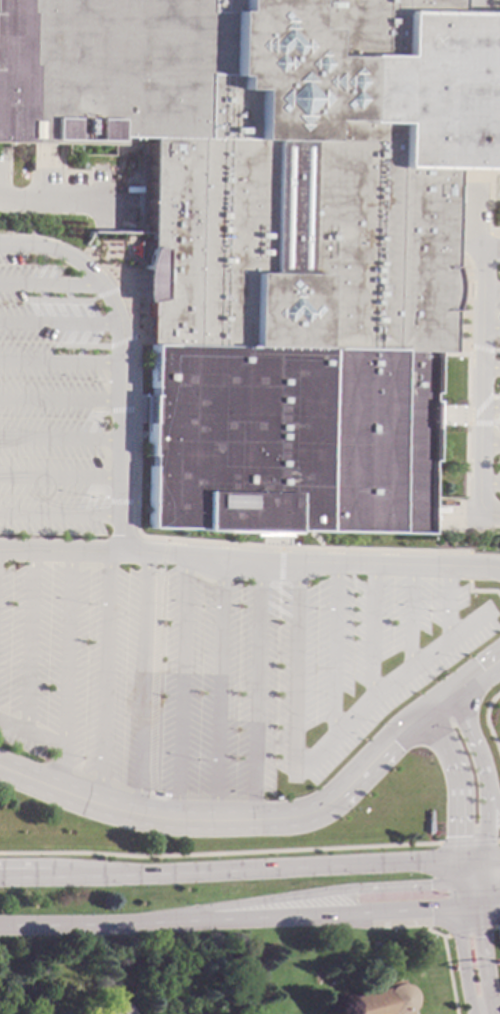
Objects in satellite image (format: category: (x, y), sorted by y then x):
road: (60, 202)
building: (278, 236)
road: (14, 244)
road: (497, 249)
road: (124, 283)
road: (47, 284)
road: (497, 290)
road: (36, 292)
road: (62, 292)
road: (102, 292)
road: (58, 301)
road: (29, 310)
road: (42, 310)
road: (55, 311)
road: (68, 311)
road: (81, 311)
road: (55, 321)
road: (496, 327)
road: (66, 333)
road: (78, 333)
road: (92, 333)
road: (116, 341)
road: (80, 346)
road: (488, 348)
road: (492, 351)
road: (74, 353)
road: (57, 360)
road: (496, 367)
road: (115, 375)
road: (57, 398)
road: (495, 406)
road: (115, 409)
road: (487, 409)
road: (89, 421)
road: (487, 422)
parking lot: (499, 428)
road: (58, 437)
road: (495, 443)
road: (58, 478)
road: (494, 481)
road: (83, 490)
road: (87, 495)
road: (115, 501)
road: (97, 507)
road: (58, 513)
road: (145, 536)
road: (57, 550)
road: (160, 551)
road: (197, 555)
road: (278, 563)
road: (387, 564)
road: (470, 565)
road: (498, 567)
road: (272, 580)
road: (286, 584)
road: (275, 589)
road: (479, 591)
road: (447, 604)
parking lot: (172, 605)
road: (274, 609)
road: (409, 618)
road: (370, 630)
road: (25, 641)
road: (332, 651)
road: (293, 669)
road: (63, 671)
road: (100, 677)
road: (475, 677)
road: (139, 683)
road: (384, 686)
road: (178, 687)
road: (216, 688)
road: (253, 689)
road: (150, 695)
road: (487, 726)
road: (31, 735)
road: (482, 773)
road: (458, 781)
road: (492, 799)
road: (242, 820)
traffic signals: (459, 836)
road: (468, 841)
road: (491, 857)
road: (471, 858)
road: (68, 866)
road: (459, 869)
road: (229, 870)
road: (472, 870)
road: (482, 870)
road: (491, 882)
traffic signals: (428, 885)
road: (459, 893)
road: (468, 893)
road: (295, 895)
road: (481, 895)
road: (490, 906)
road: (470, 907)
traffic signals: (428, 910)
road: (229, 919)
road: (472, 930)
road: (444, 936)
road: (498, 936)
traffic signals: (479, 937)
road: (481, 959)
road: (462, 962)
road: (446, 967)
park: (16, 976)
building: (45, 986)
building: (380, 1000)
building: (121, 1009)
building: (105, 1011)
road: (491, 1011)
building: (179, 1012)
road: (482, 1012)

